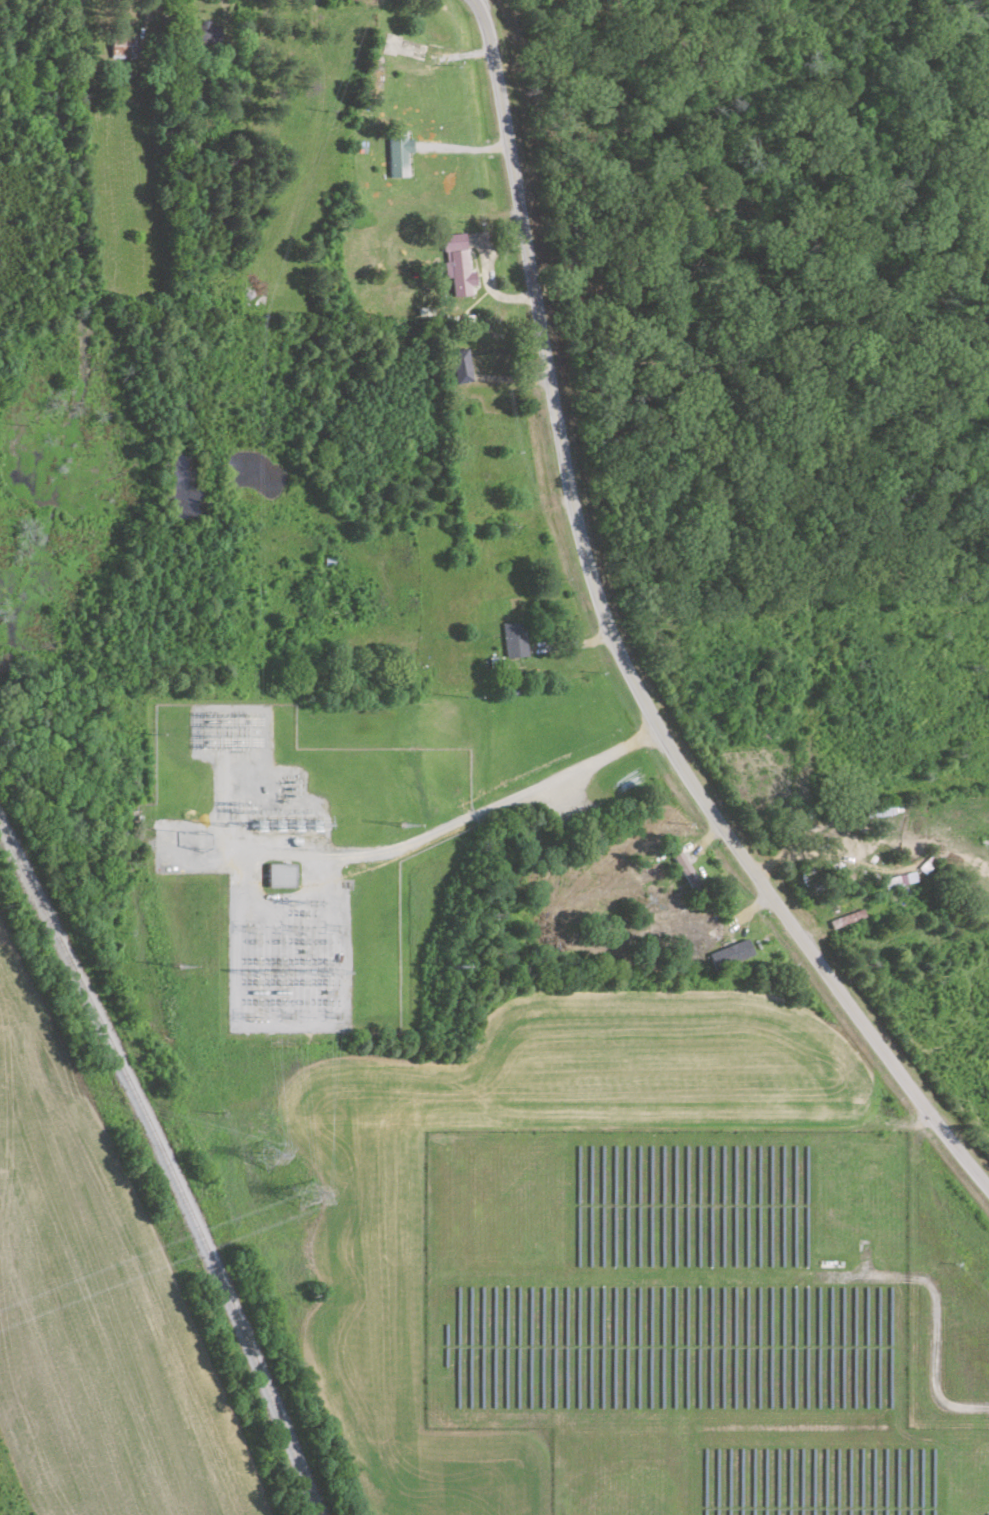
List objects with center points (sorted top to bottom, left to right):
building: (202, 30)
building: (124, 42)
building: (403, 45)
building: (396, 152)
building: (457, 265)
building: (460, 364)
building: (513, 639)
road: (616, 645)
building: (889, 805)
building: (845, 848)
road: (504, 855)
power substation: (321, 868)
building: (684, 869)
building: (278, 873)
building: (864, 903)
building: (704, 920)
building: (729, 951)
power tower: (329, 1013)
railway: (168, 1166)
power tower: (305, 1191)

